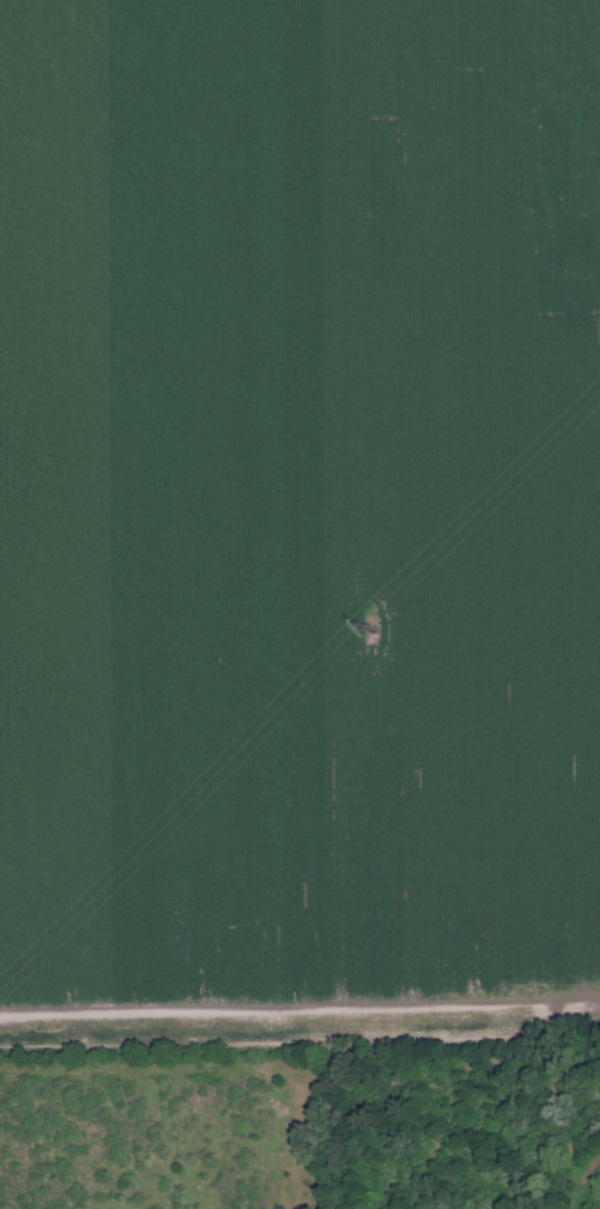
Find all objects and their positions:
power tower: (378, 631)

